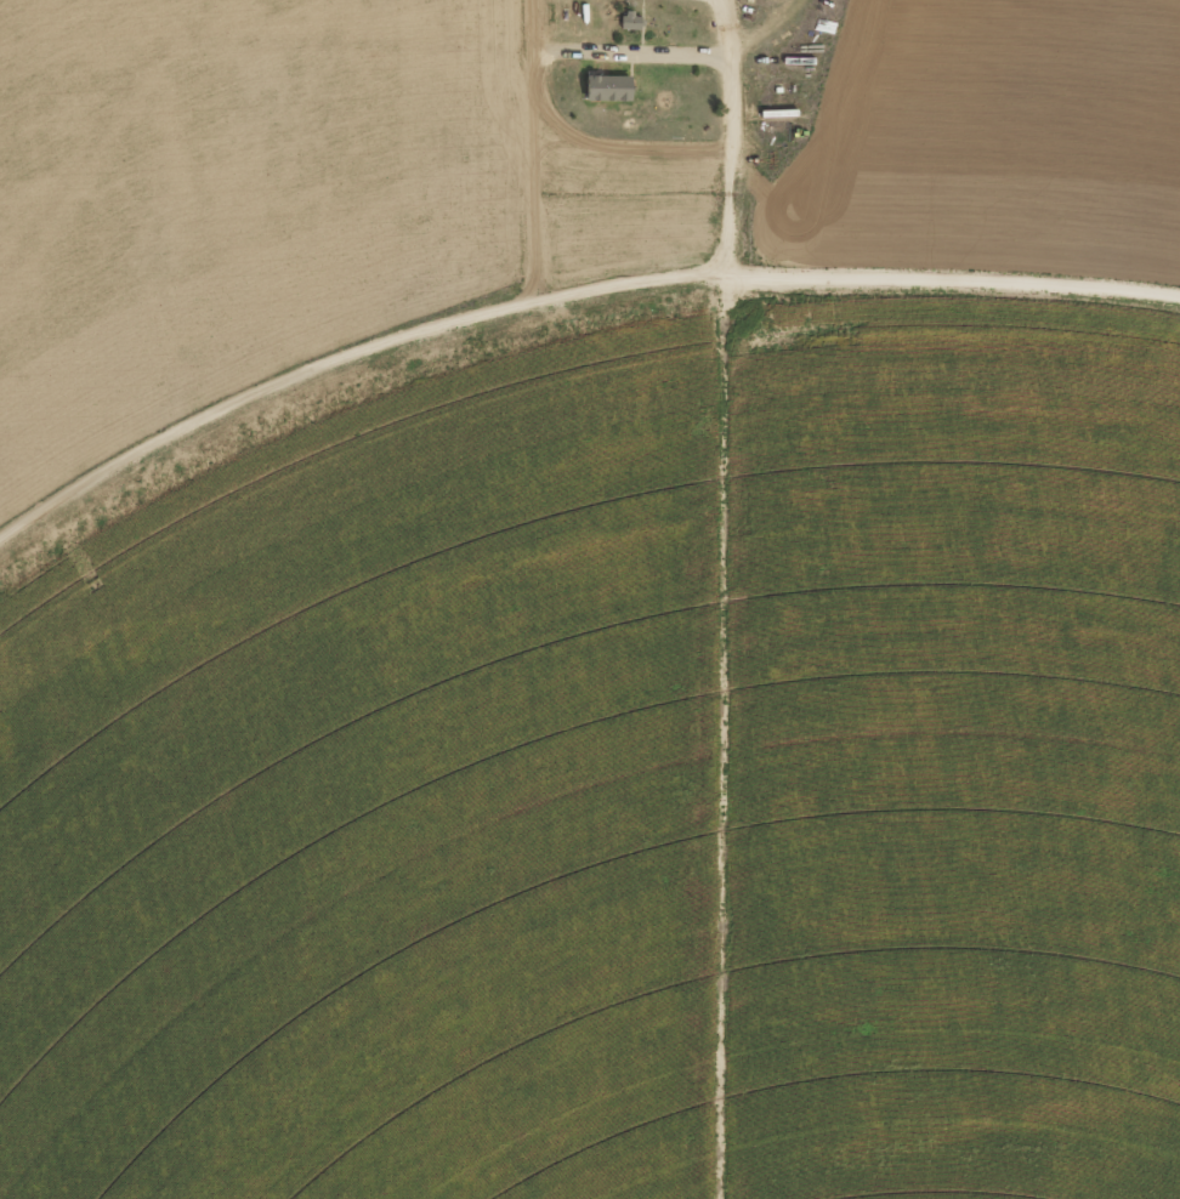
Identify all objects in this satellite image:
road: (953, 279)
road: (449, 322)

